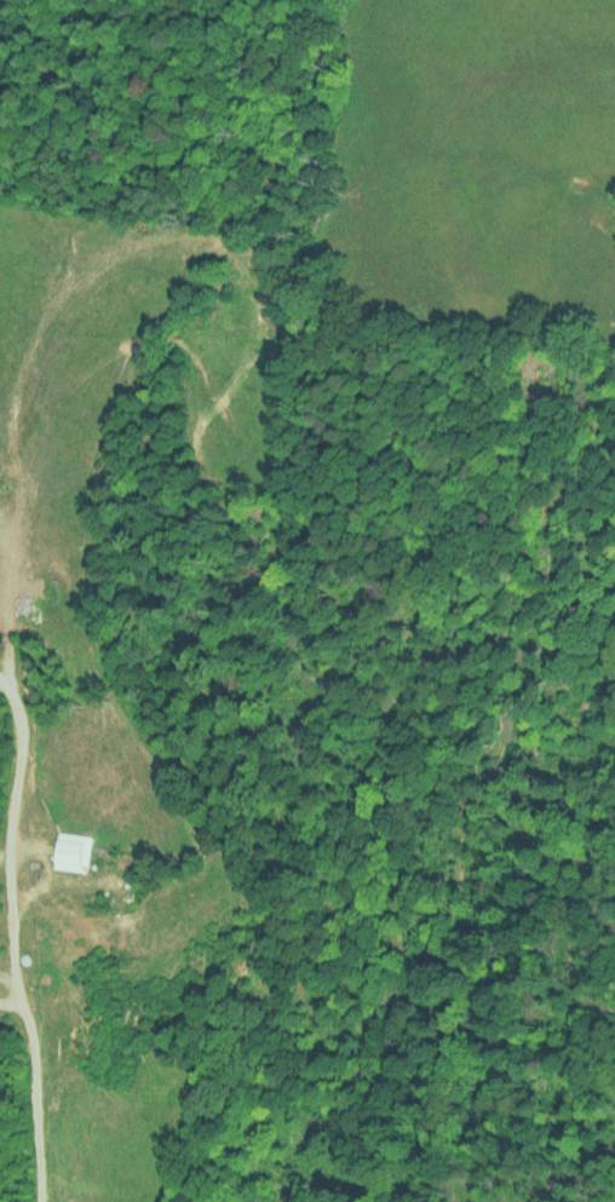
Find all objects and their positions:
building: (70, 850)
road: (10, 938)

